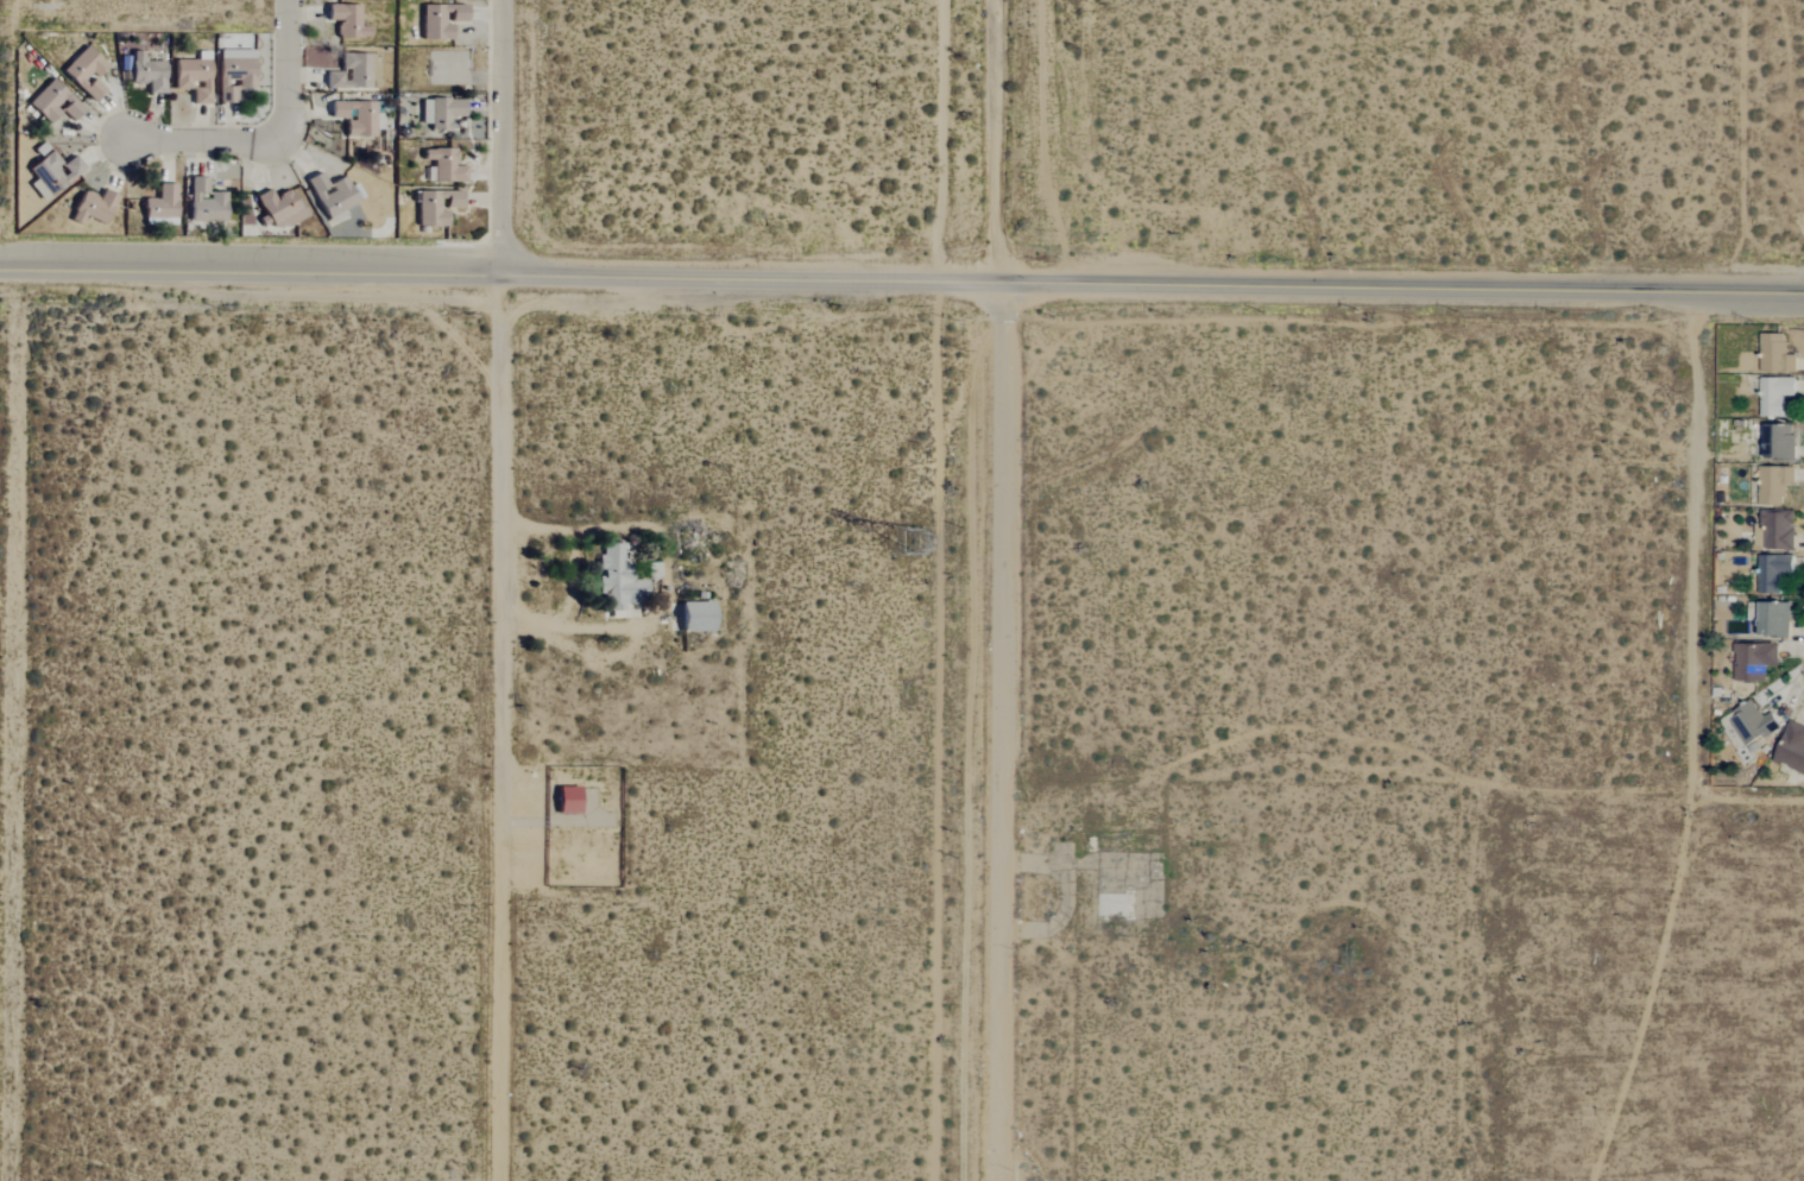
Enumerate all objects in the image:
building: (345, 20)
building: (433, 23)
road: (288, 70)
building: (145, 71)
building: (83, 72)
building: (52, 102)
building: (440, 112)
road: (511, 134)
road: (171, 138)
building: (329, 194)
building: (203, 202)
building: (435, 206)
building: (92, 207)
building: (159, 207)
building: (276, 208)
road: (901, 279)
building: (1775, 354)
building: (1774, 394)
building: (1779, 442)
building: (1773, 485)
road: (1705, 499)
building: (1774, 530)
power tower: (907, 539)
building: (1772, 573)
road: (668, 575)
building: (617, 579)
road: (576, 581)
road: (1002, 589)
building: (693, 617)
building: (1771, 620)
building: (1753, 661)
road: (18, 721)
building: (1751, 724)
road: (507, 725)
building: (1791, 747)

